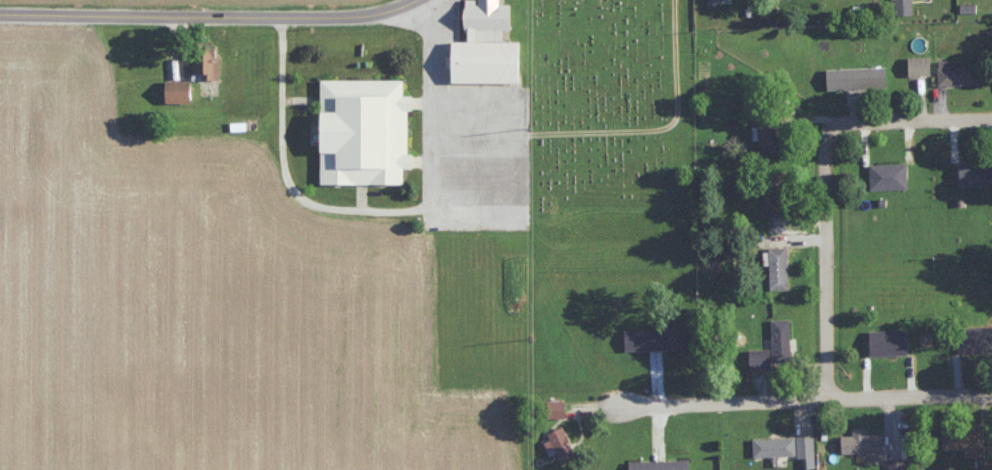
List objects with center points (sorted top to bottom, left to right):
building: (715, 1)
building: (904, 6)
road: (211, 16)
building: (487, 44)
building: (206, 61)
building: (921, 64)
building: (959, 72)
building: (857, 76)
building: (179, 89)
road: (813, 118)
road: (913, 120)
road: (614, 126)
building: (365, 130)
building: (769, 134)
building: (974, 171)
building: (889, 174)
building: (777, 202)
road: (372, 206)
road: (826, 261)
building: (778, 265)
building: (656, 337)
building: (977, 338)
building: (890, 341)
building: (775, 347)
road: (804, 399)
building: (557, 408)
building: (966, 439)
building: (563, 443)
building: (866, 444)
building: (775, 445)
building: (808, 448)
building: (661, 464)
building: (899, 464)

